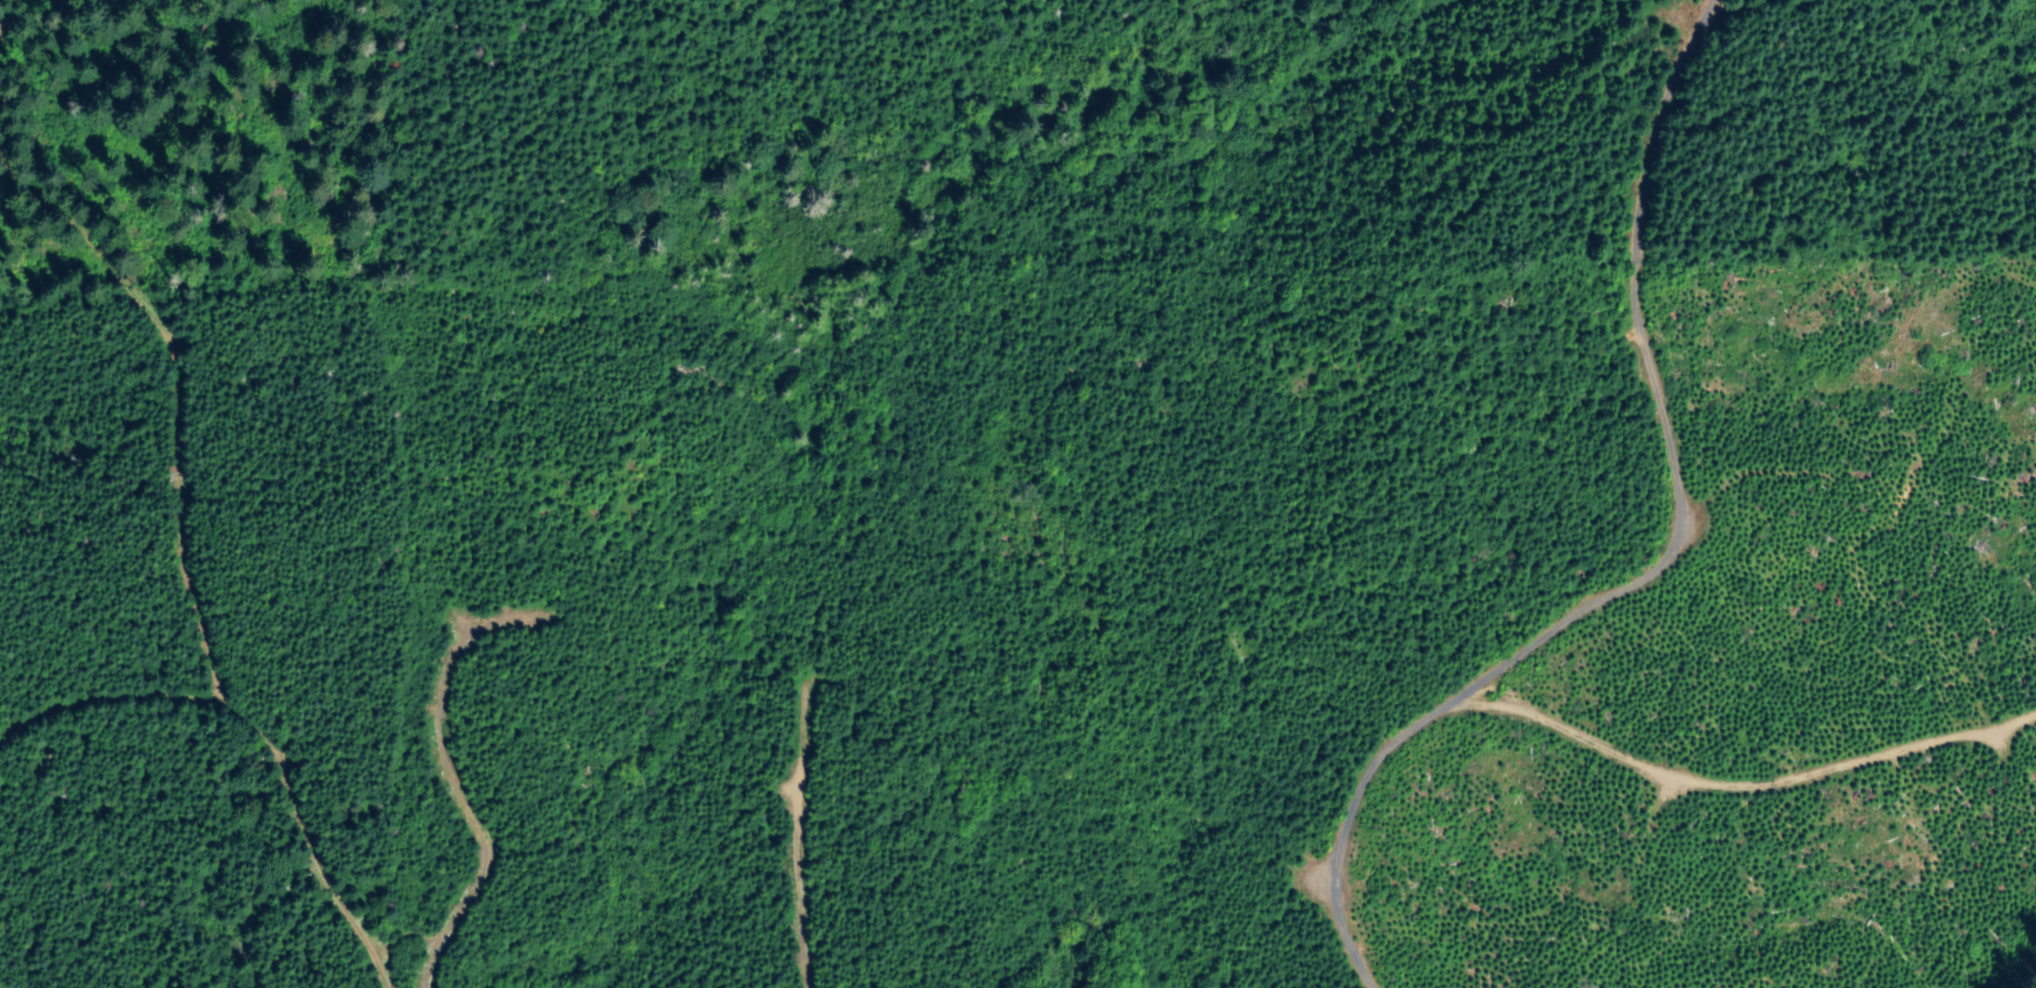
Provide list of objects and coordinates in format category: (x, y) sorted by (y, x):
road: (996, 49)
road: (1640, 549)
road: (126, 711)
road: (289, 744)

